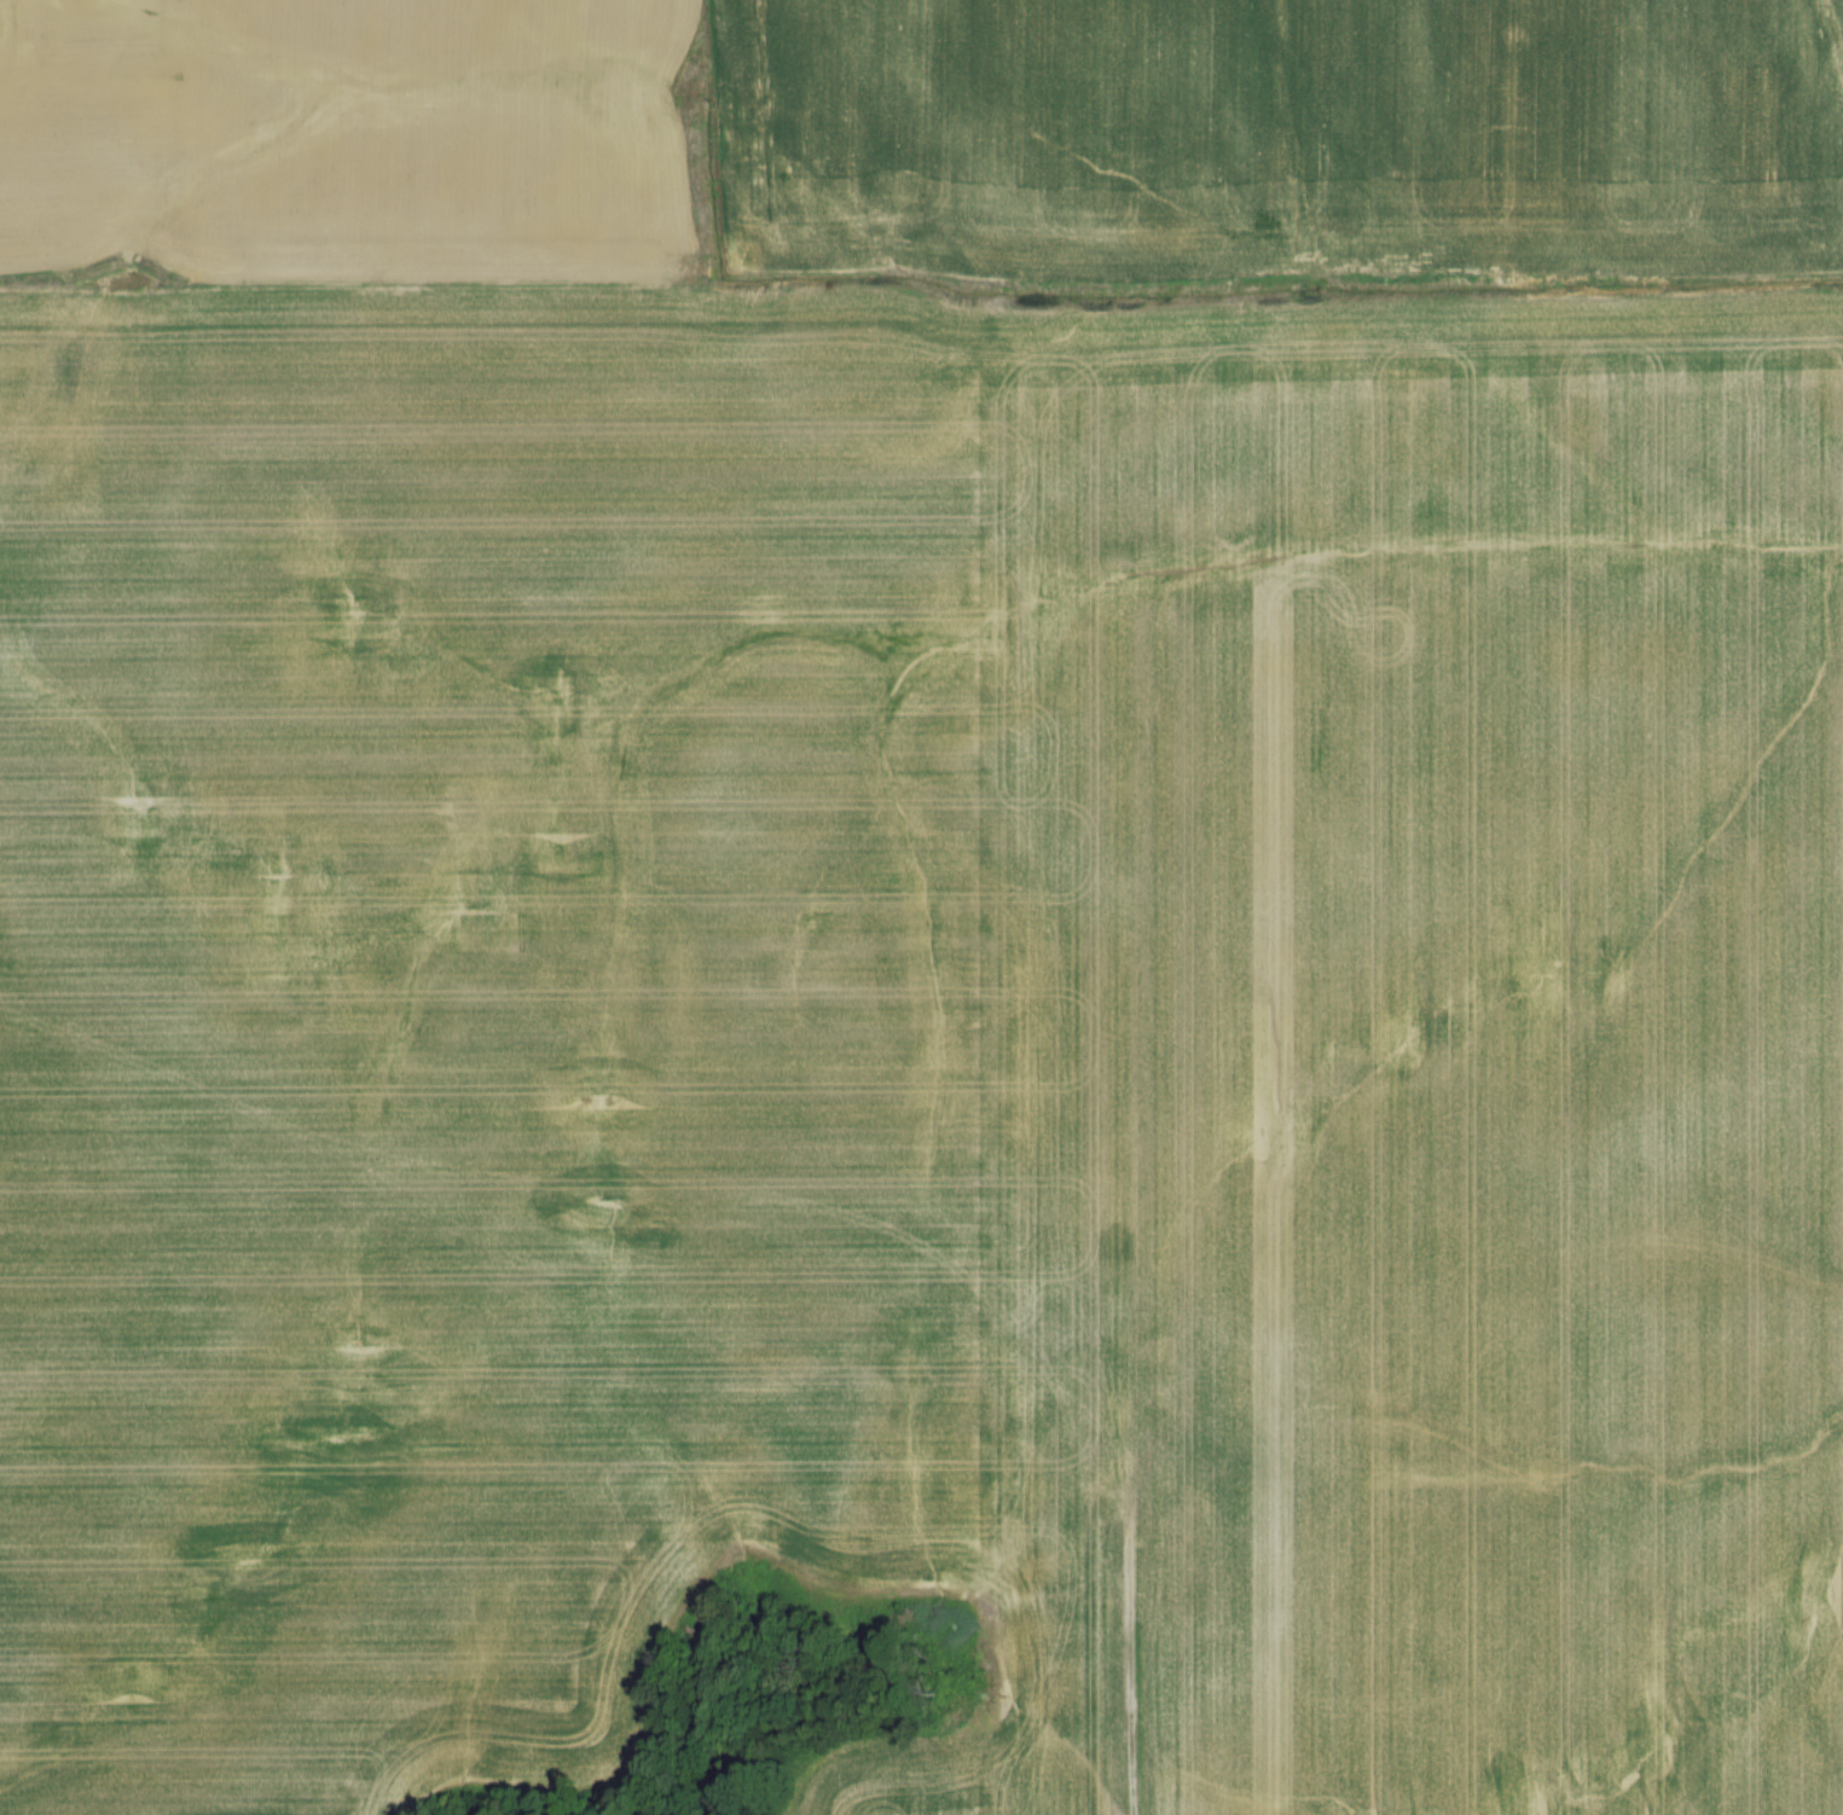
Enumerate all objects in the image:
road: (1118, 1579)

